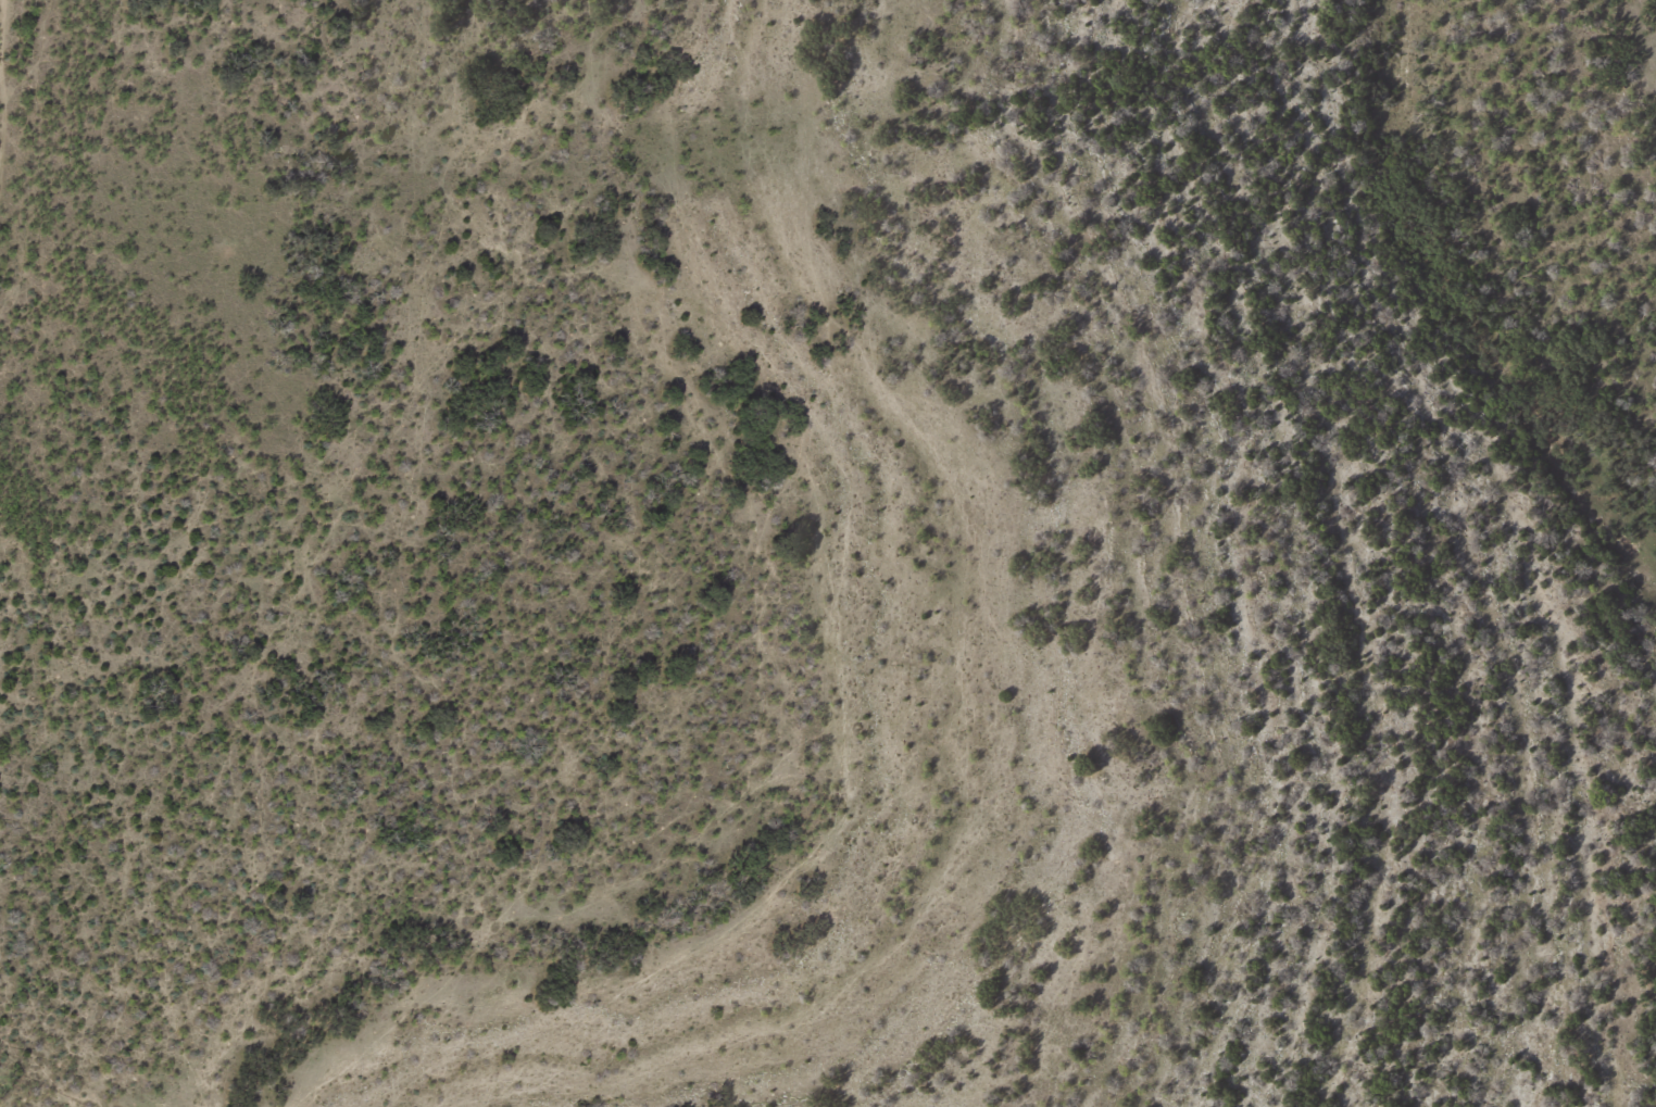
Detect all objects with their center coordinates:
road: (1428, 367)

